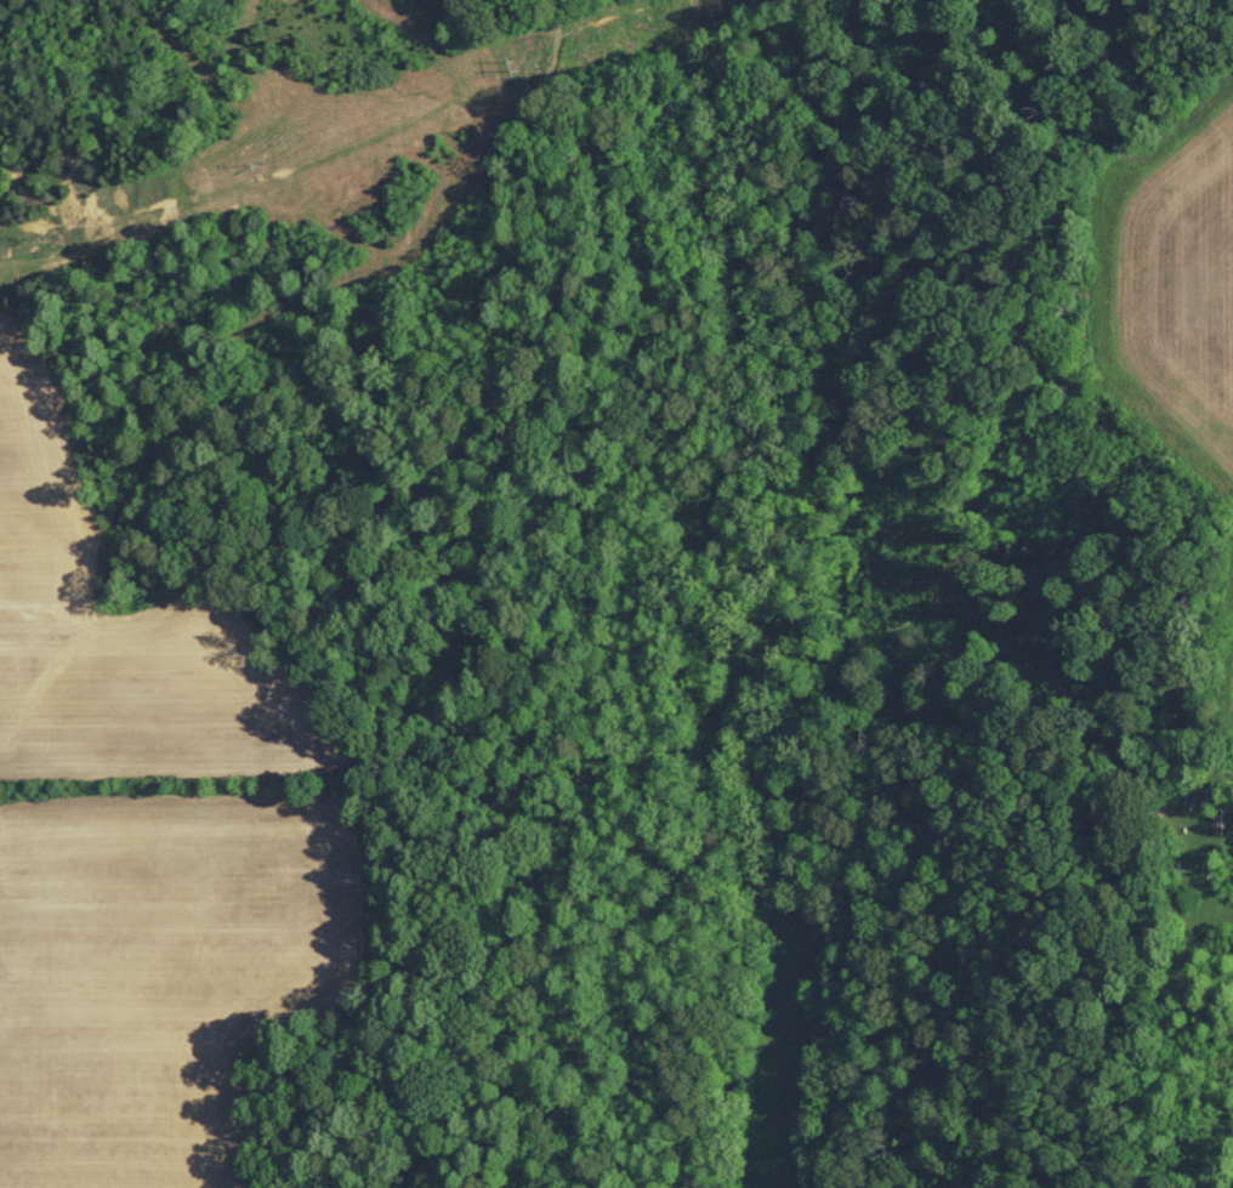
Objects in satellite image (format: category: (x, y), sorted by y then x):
building: (1214, 819)

